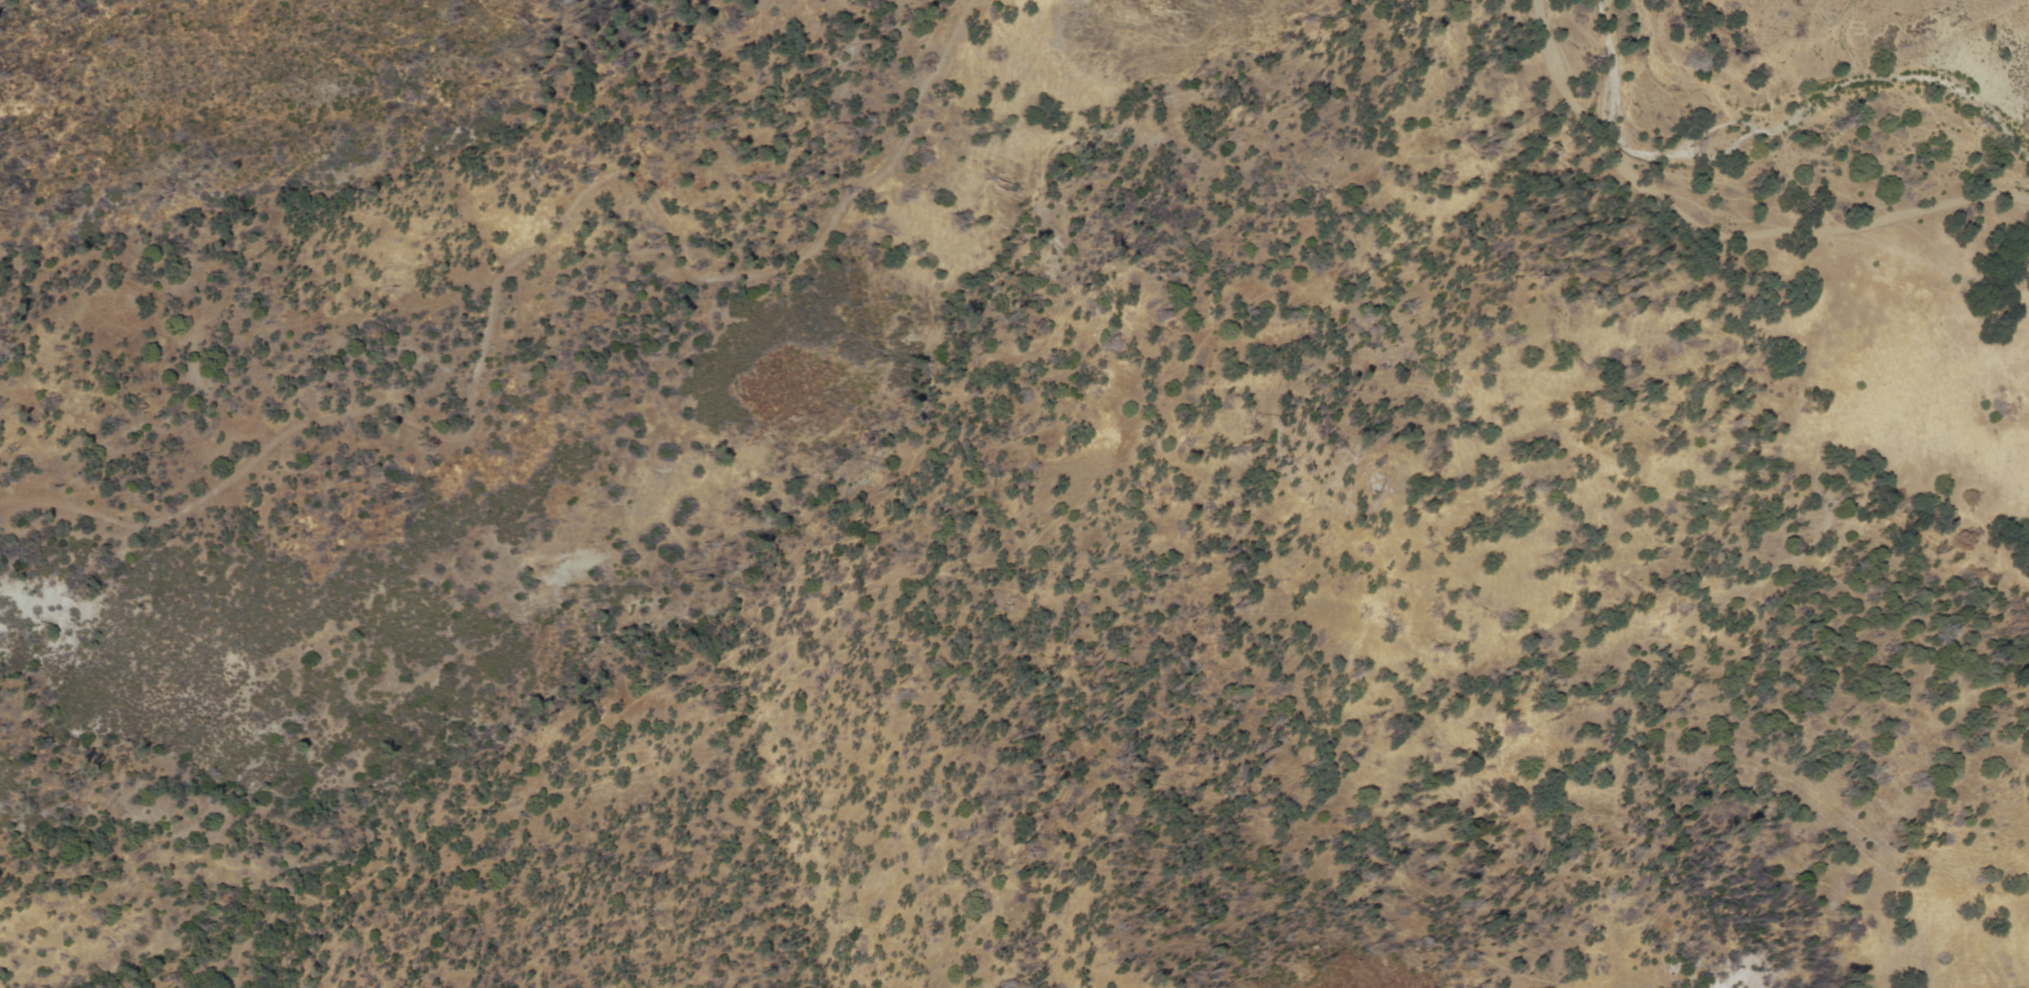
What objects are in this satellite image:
road: (1717, 243)

